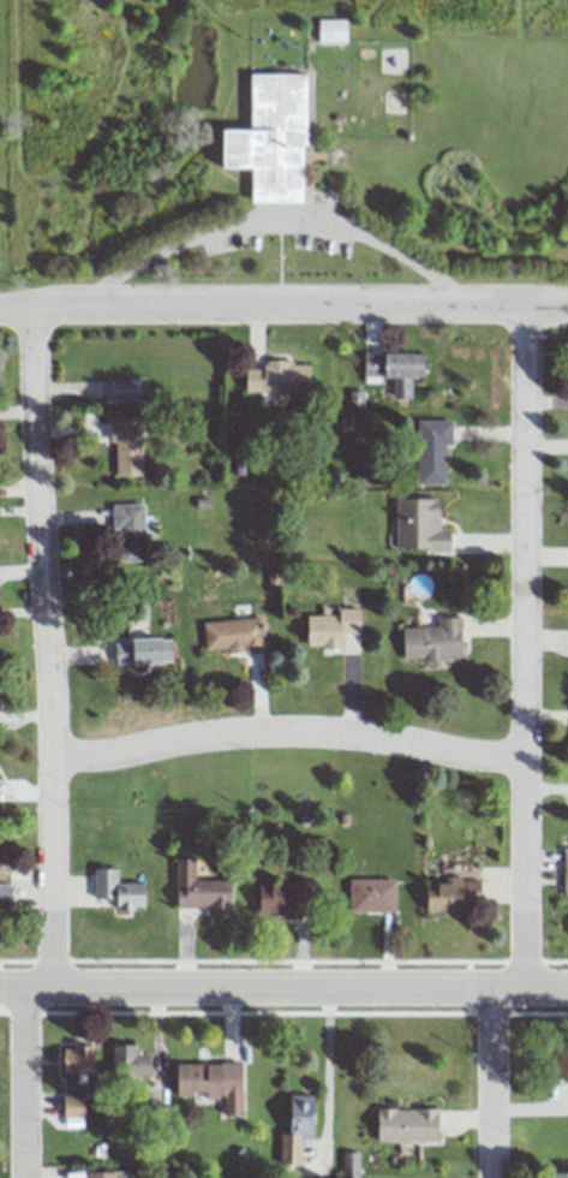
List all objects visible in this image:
building: (331, 30)
building: (271, 142)
road: (275, 224)
road: (283, 304)
building: (403, 370)
building: (280, 376)
building: (121, 388)
building: (127, 445)
building: (432, 447)
building: (421, 525)
building: (131, 530)
building: (331, 627)
building: (234, 635)
road: (49, 642)
building: (434, 642)
road: (518, 643)
building: (143, 650)
road: (288, 736)
building: (566, 873)
building: (119, 890)
building: (202, 891)
building: (372, 896)
building: (454, 896)
building: (5, 897)
building: (282, 897)
road: (283, 980)
building: (557, 1061)
road: (316, 1075)
building: (133, 1077)
road: (19, 1078)
building: (76, 1078)
building: (209, 1078)
road: (491, 1078)
building: (407, 1124)
building: (298, 1128)
building: (106, 1174)
building: (558, 1174)

